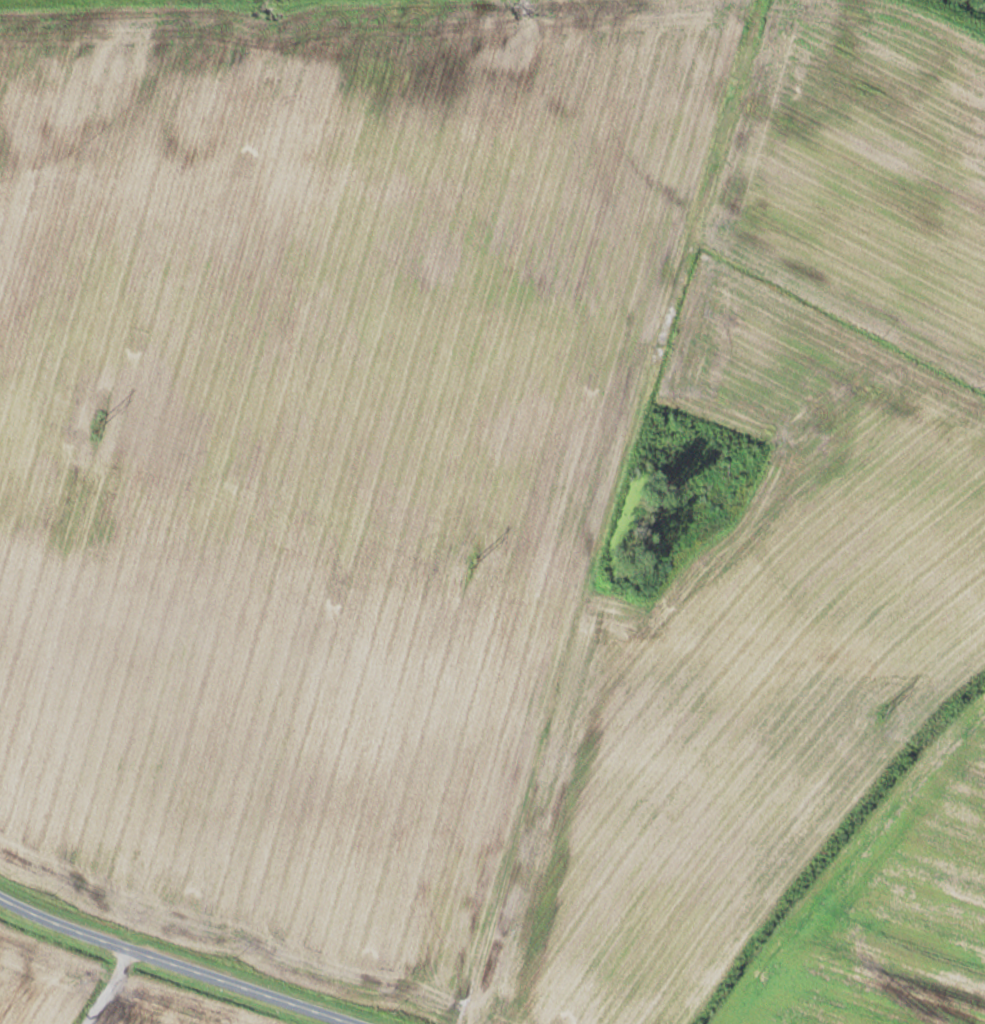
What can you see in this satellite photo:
power tower: (99, 427)
power tower: (475, 562)
power tower: (884, 711)
road: (182, 961)

